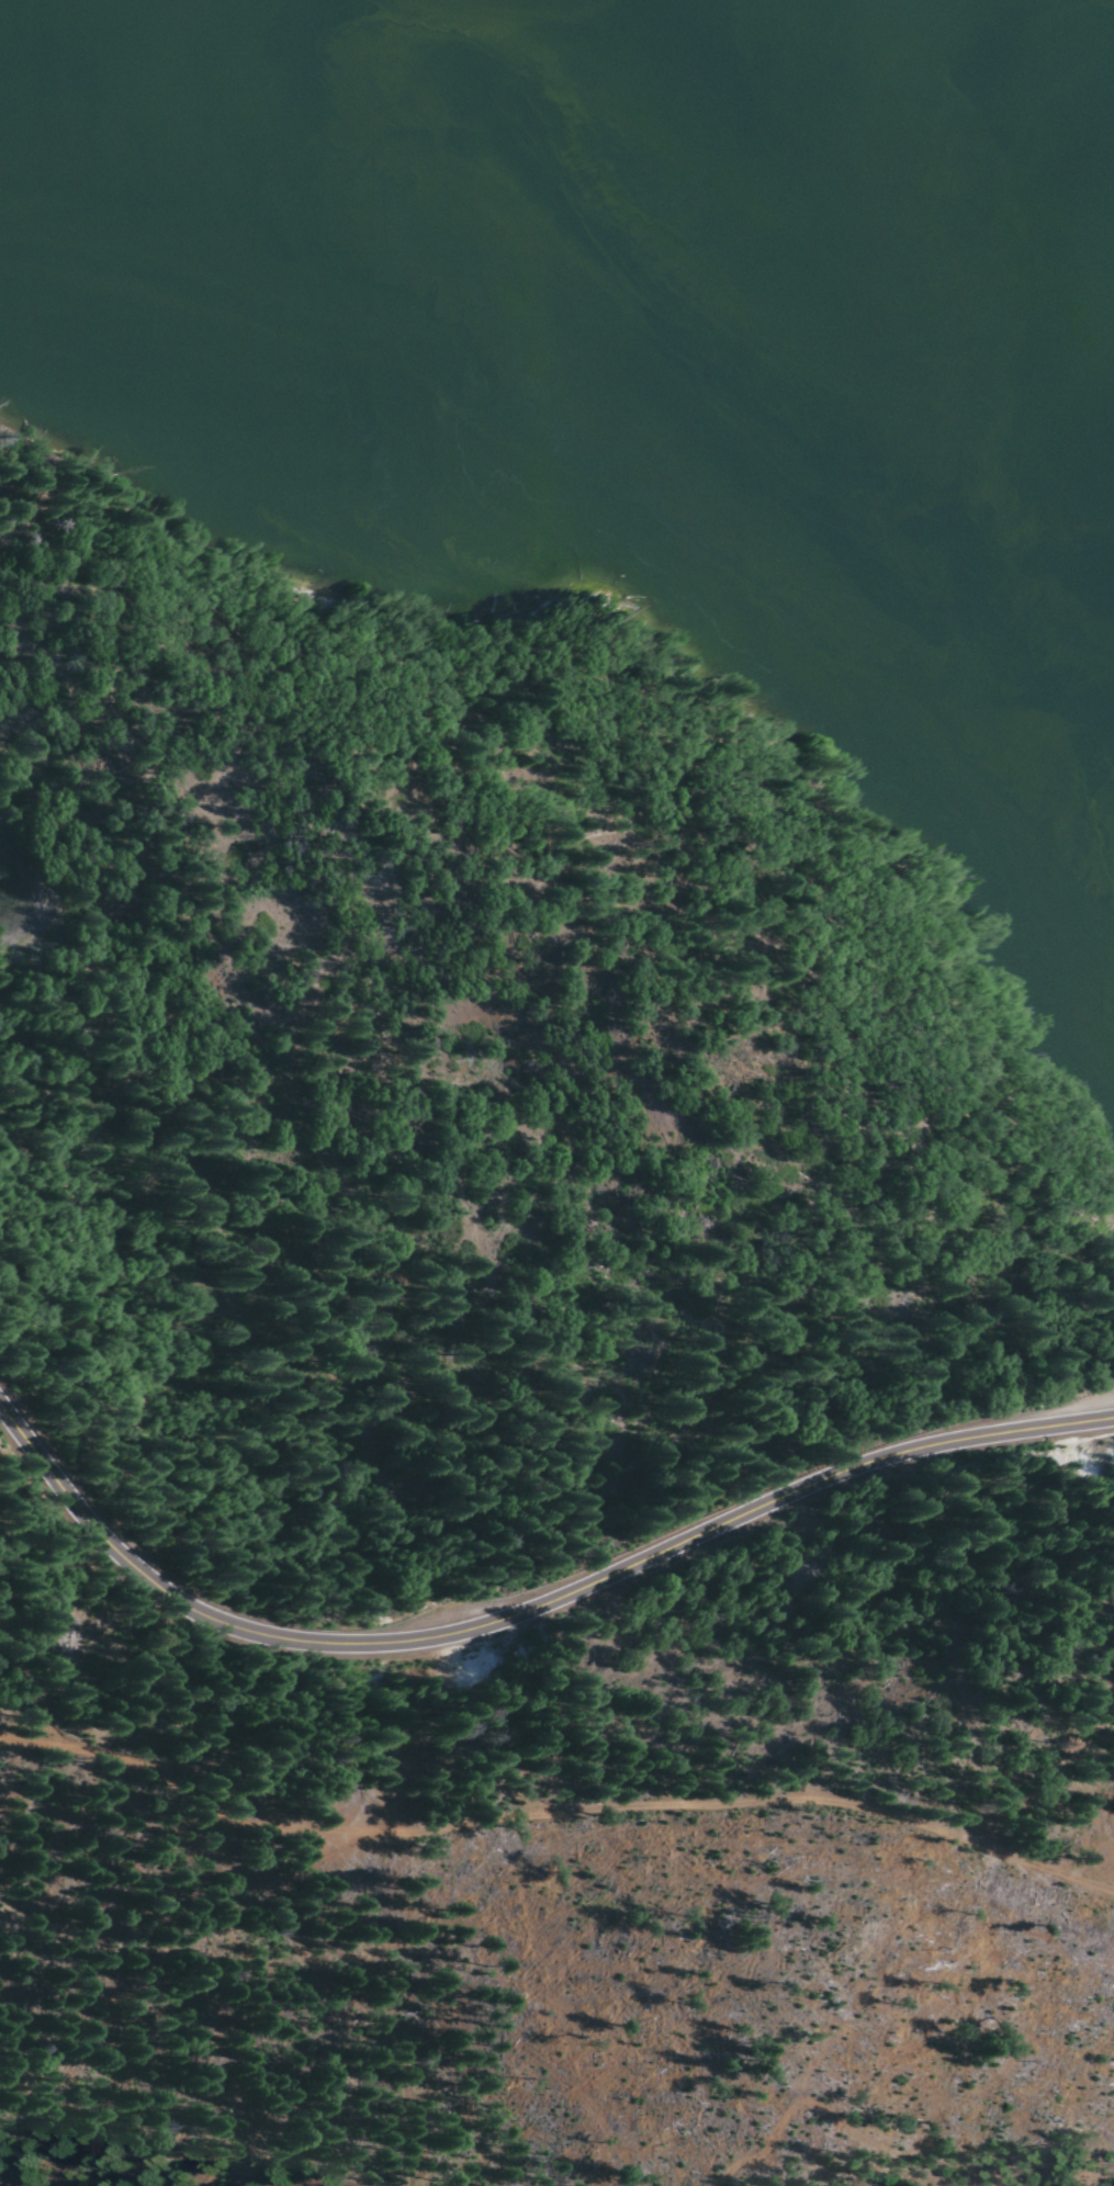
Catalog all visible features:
river: (596, 298)
road: (531, 1610)
road: (554, 1801)

